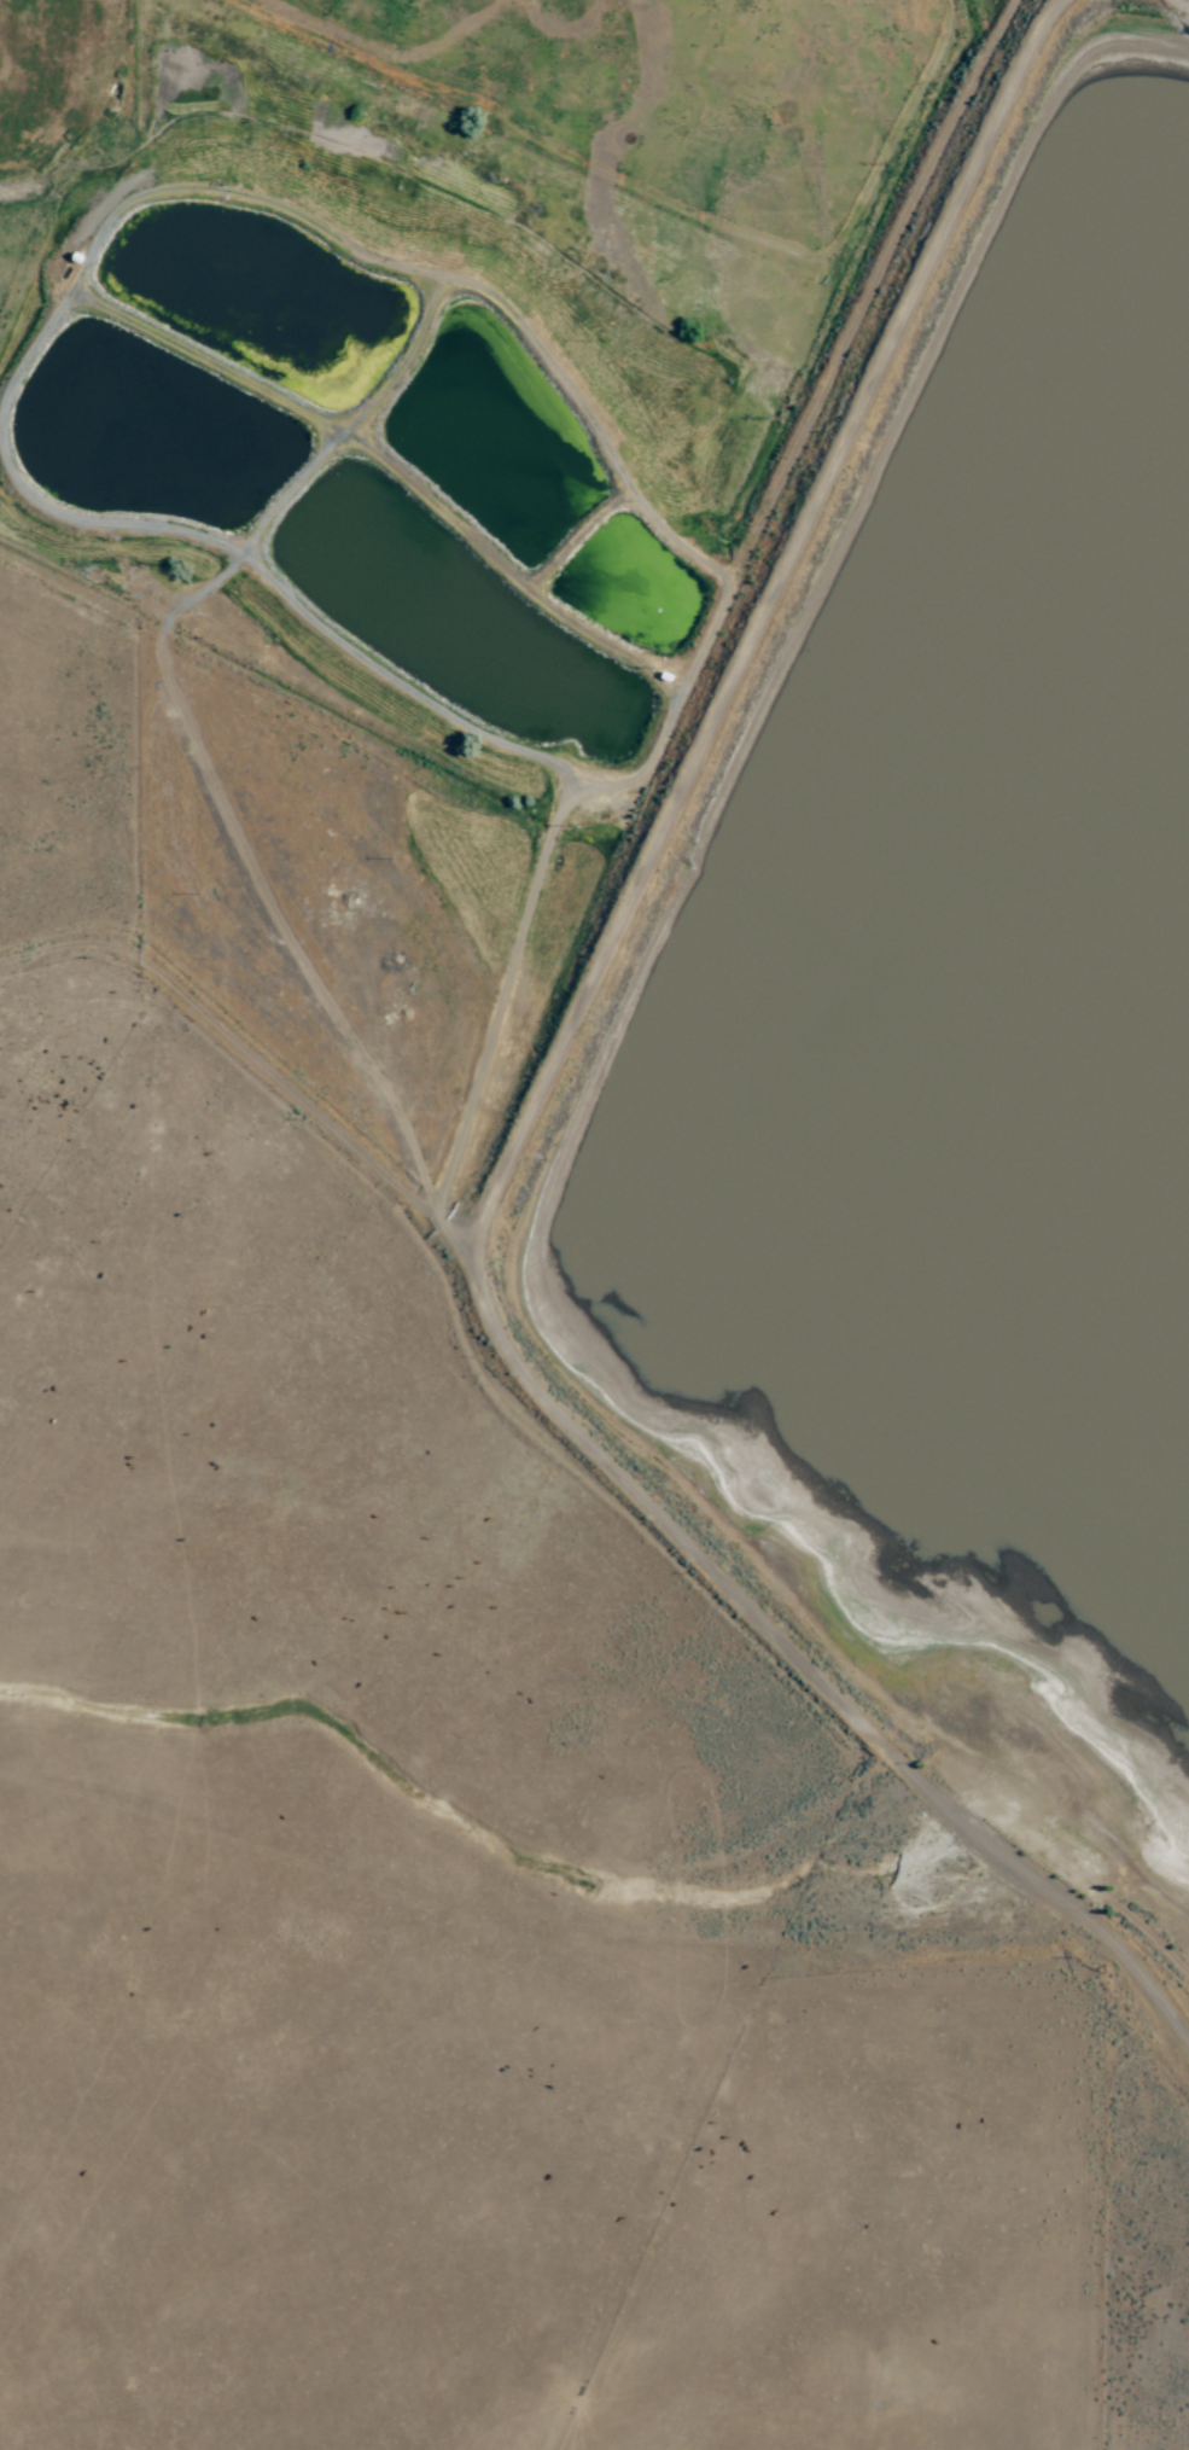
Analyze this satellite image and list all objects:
wastewater plant: (253, 316)
wastewater plant: (136, 458)
wastewater plant: (472, 485)
wastewater plant: (612, 622)
wastewater plant: (427, 640)
wastewater plant: (624, 747)
road: (600, 1454)

